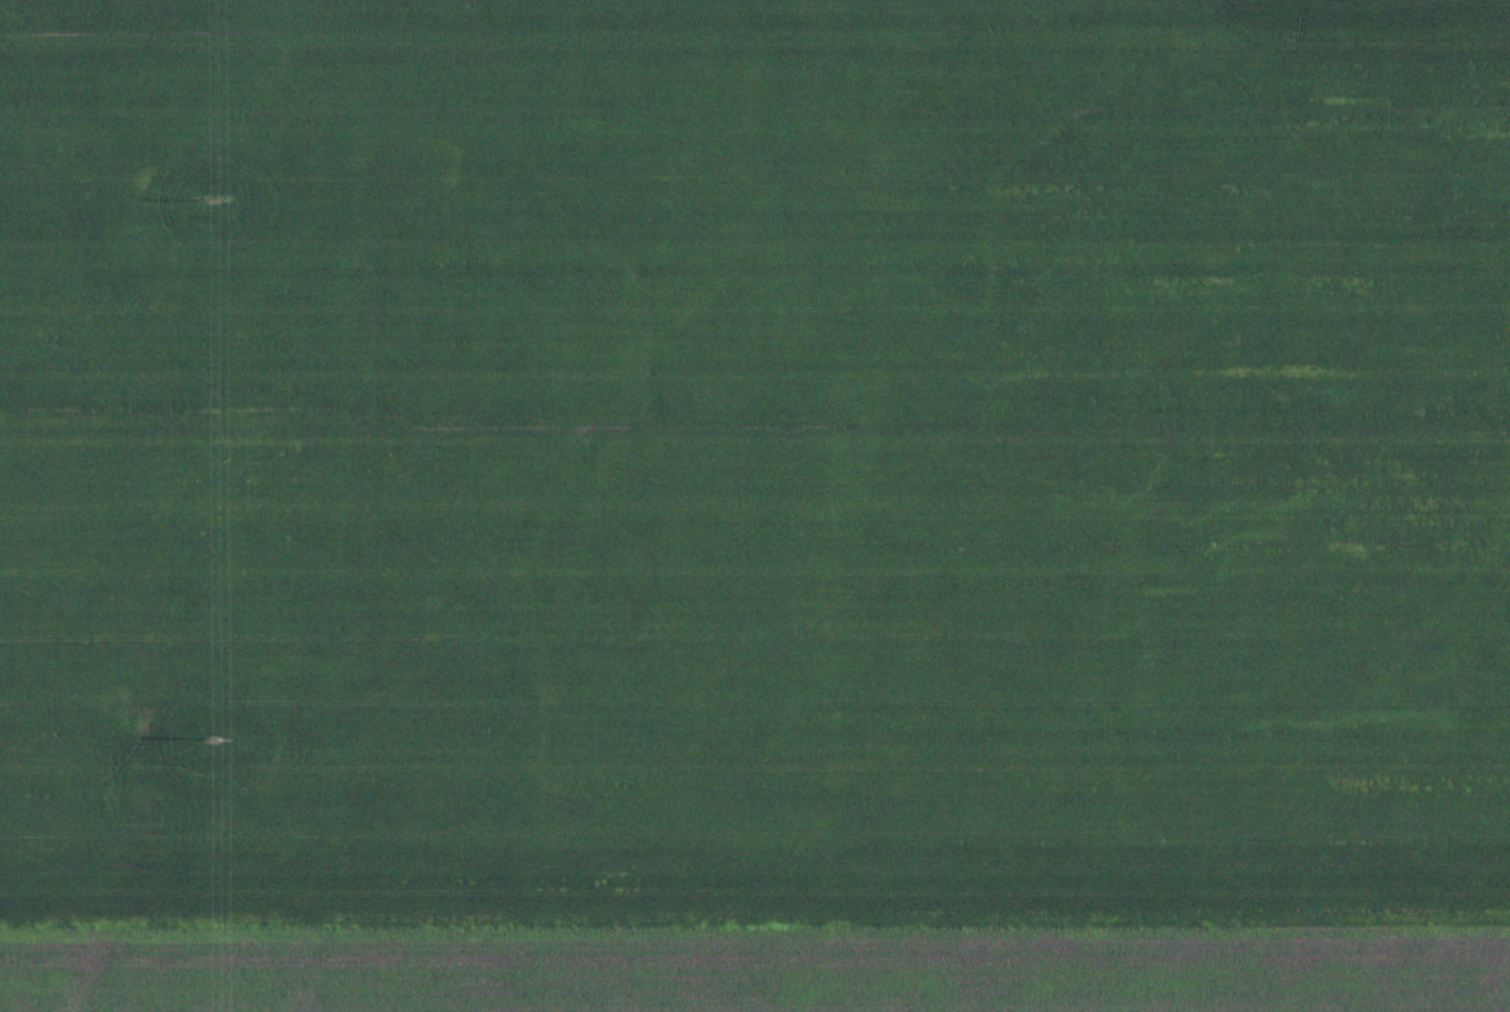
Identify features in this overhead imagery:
power tower: (211, 197)
crop: (754, 460)
road: (203, 622)
power tower: (210, 736)
crop: (761, 966)

